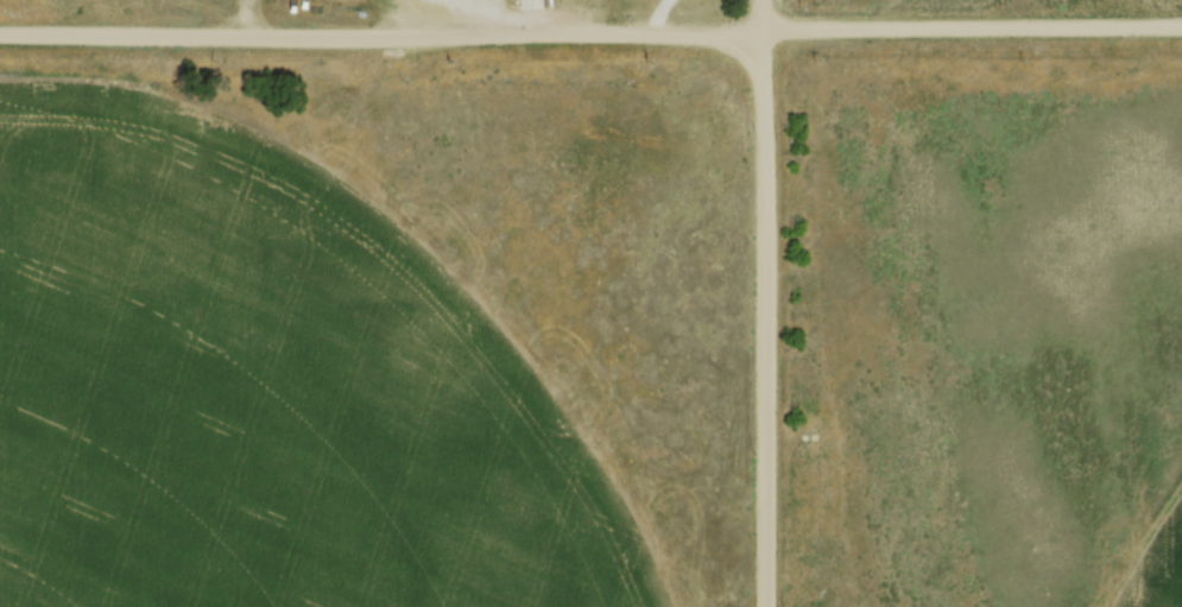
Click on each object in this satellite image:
road: (651, 17)
road: (590, 37)
road: (757, 303)

